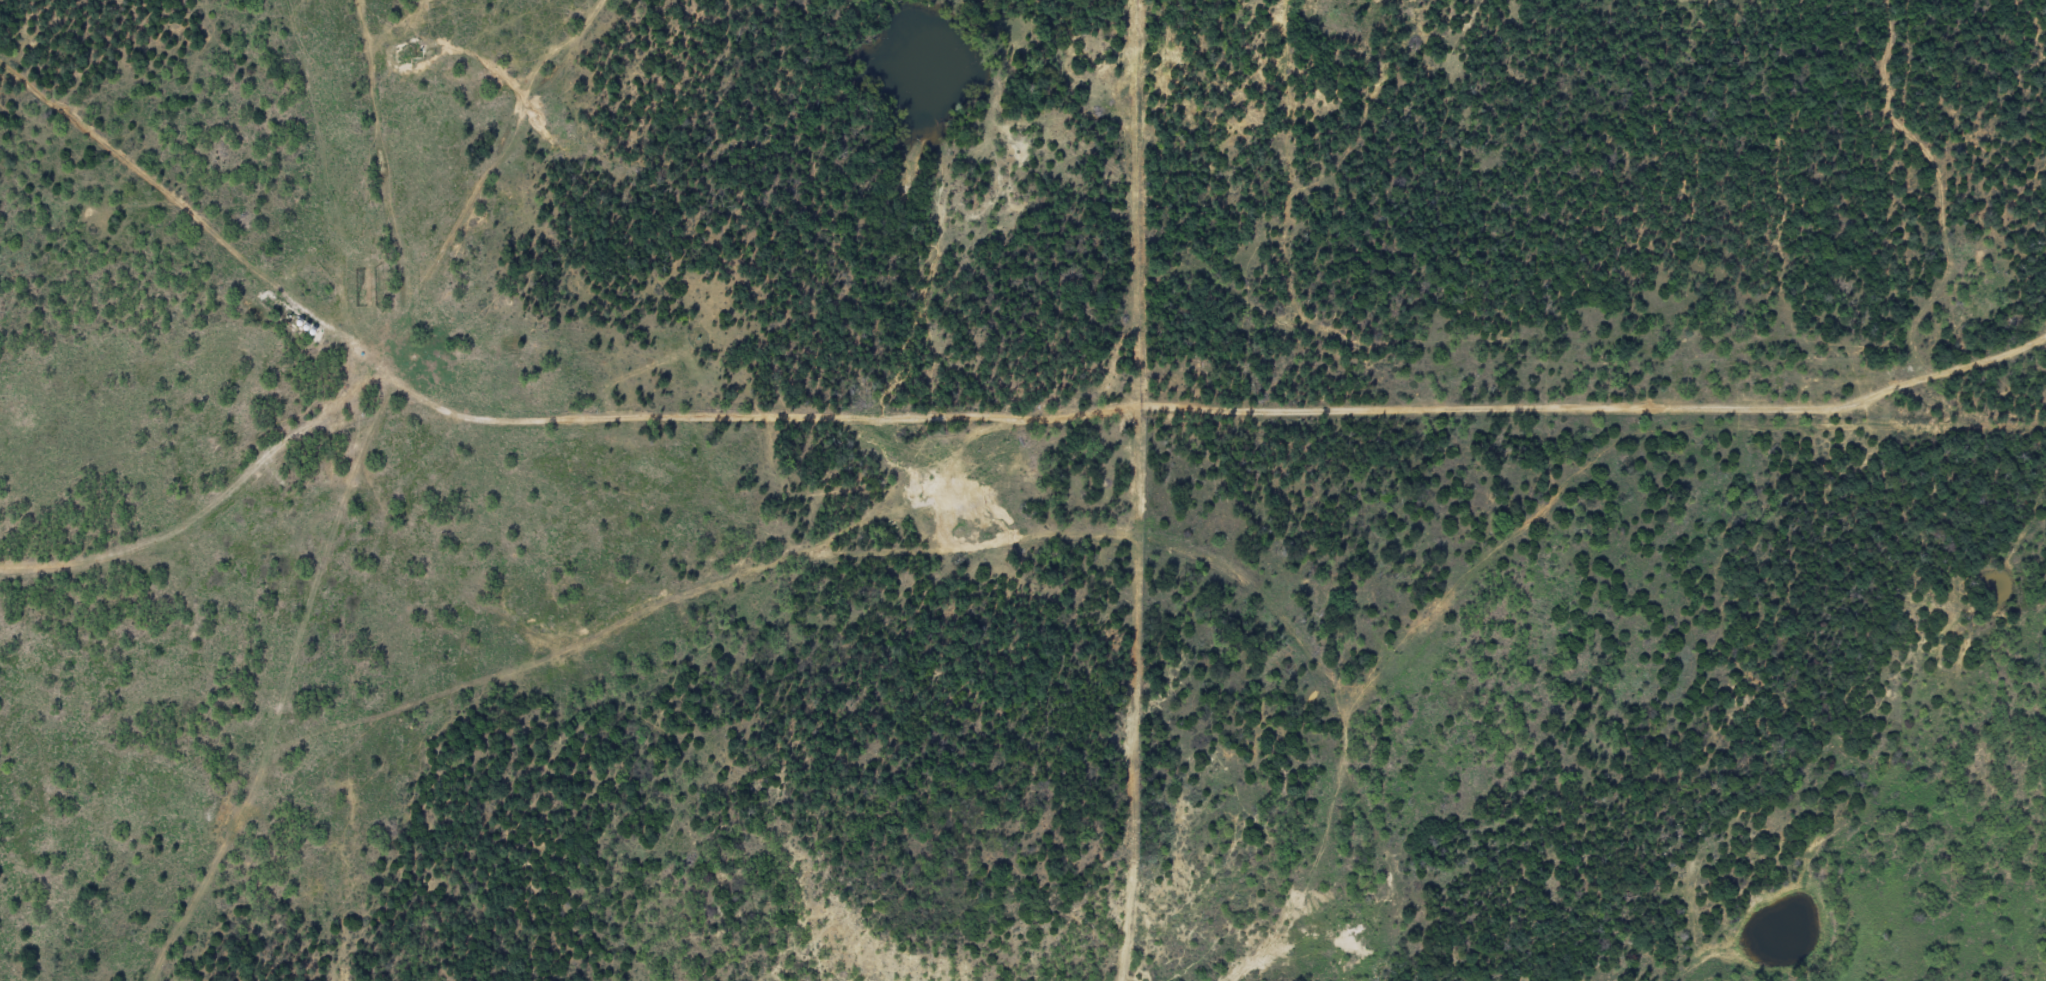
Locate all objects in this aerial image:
road: (506, 218)
road: (467, 466)
road: (895, 610)

